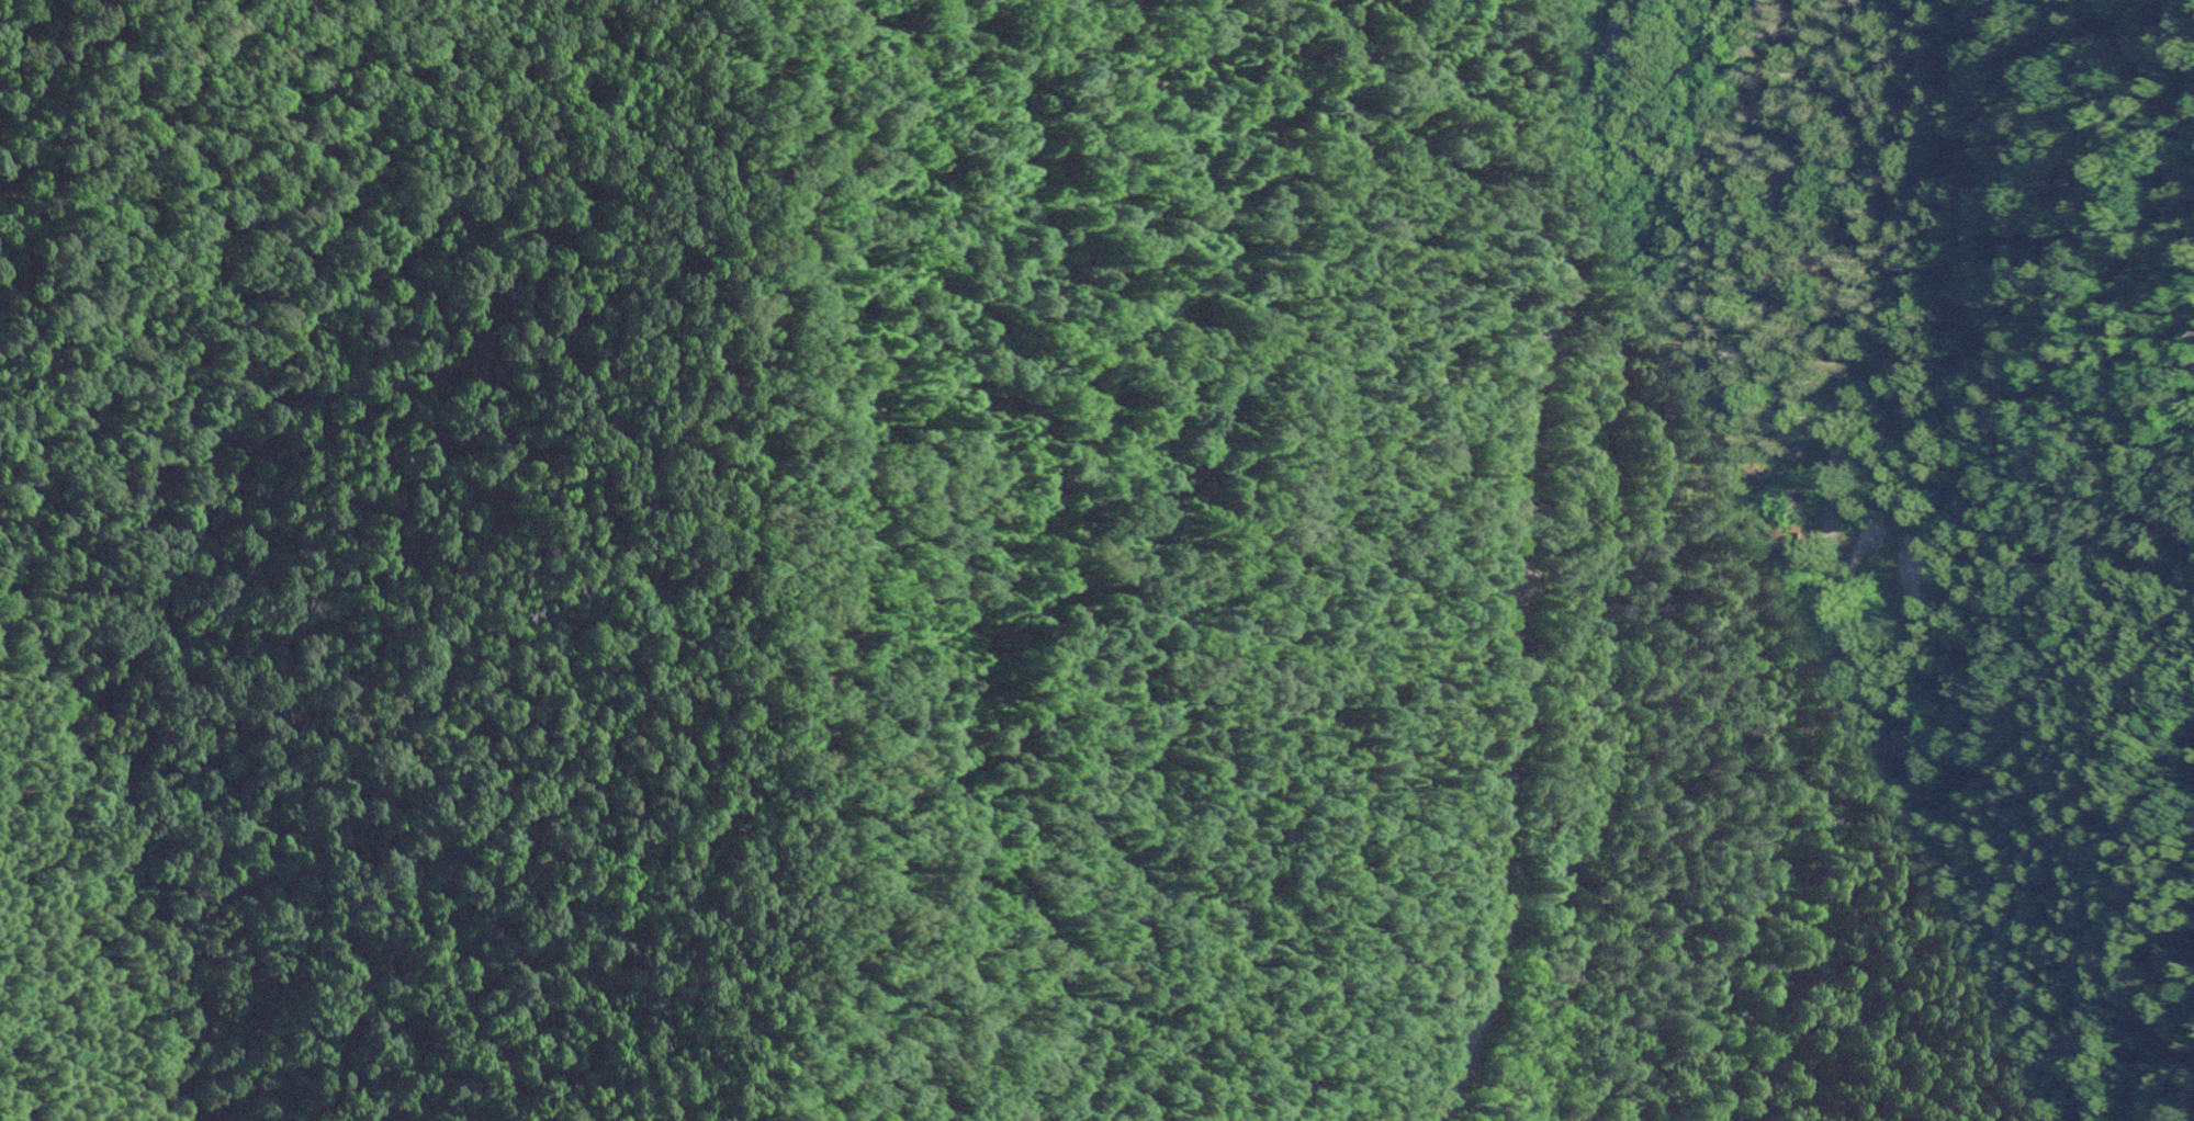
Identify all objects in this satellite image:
road: (1827, 541)
road: (1509, 558)
road: (1961, 567)

